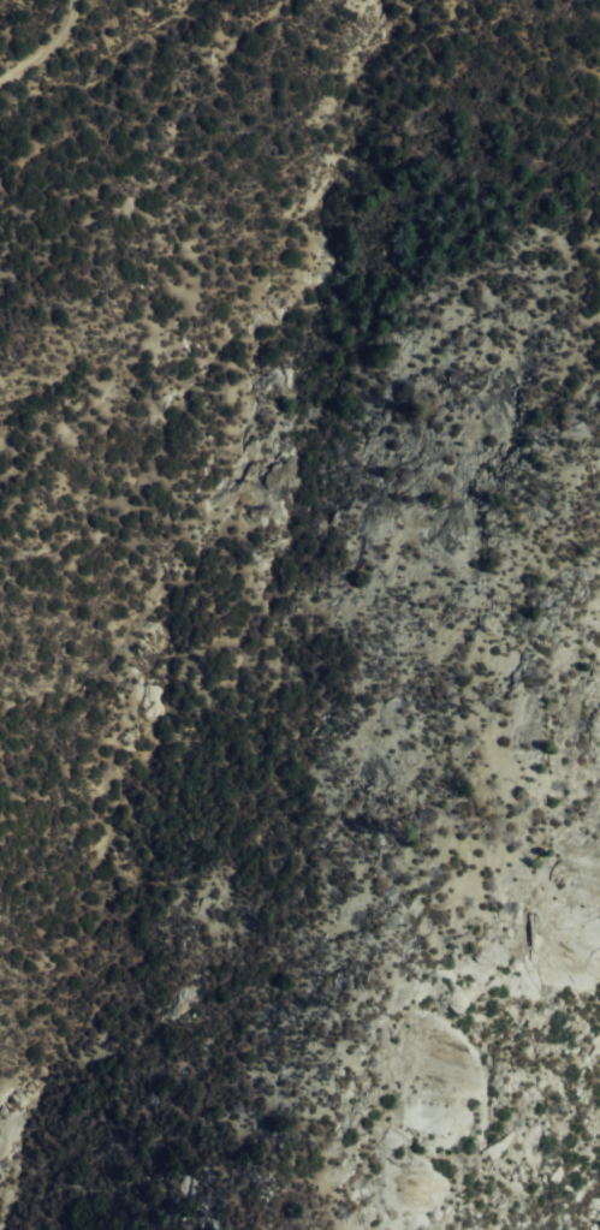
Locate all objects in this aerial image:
road: (31, 34)

